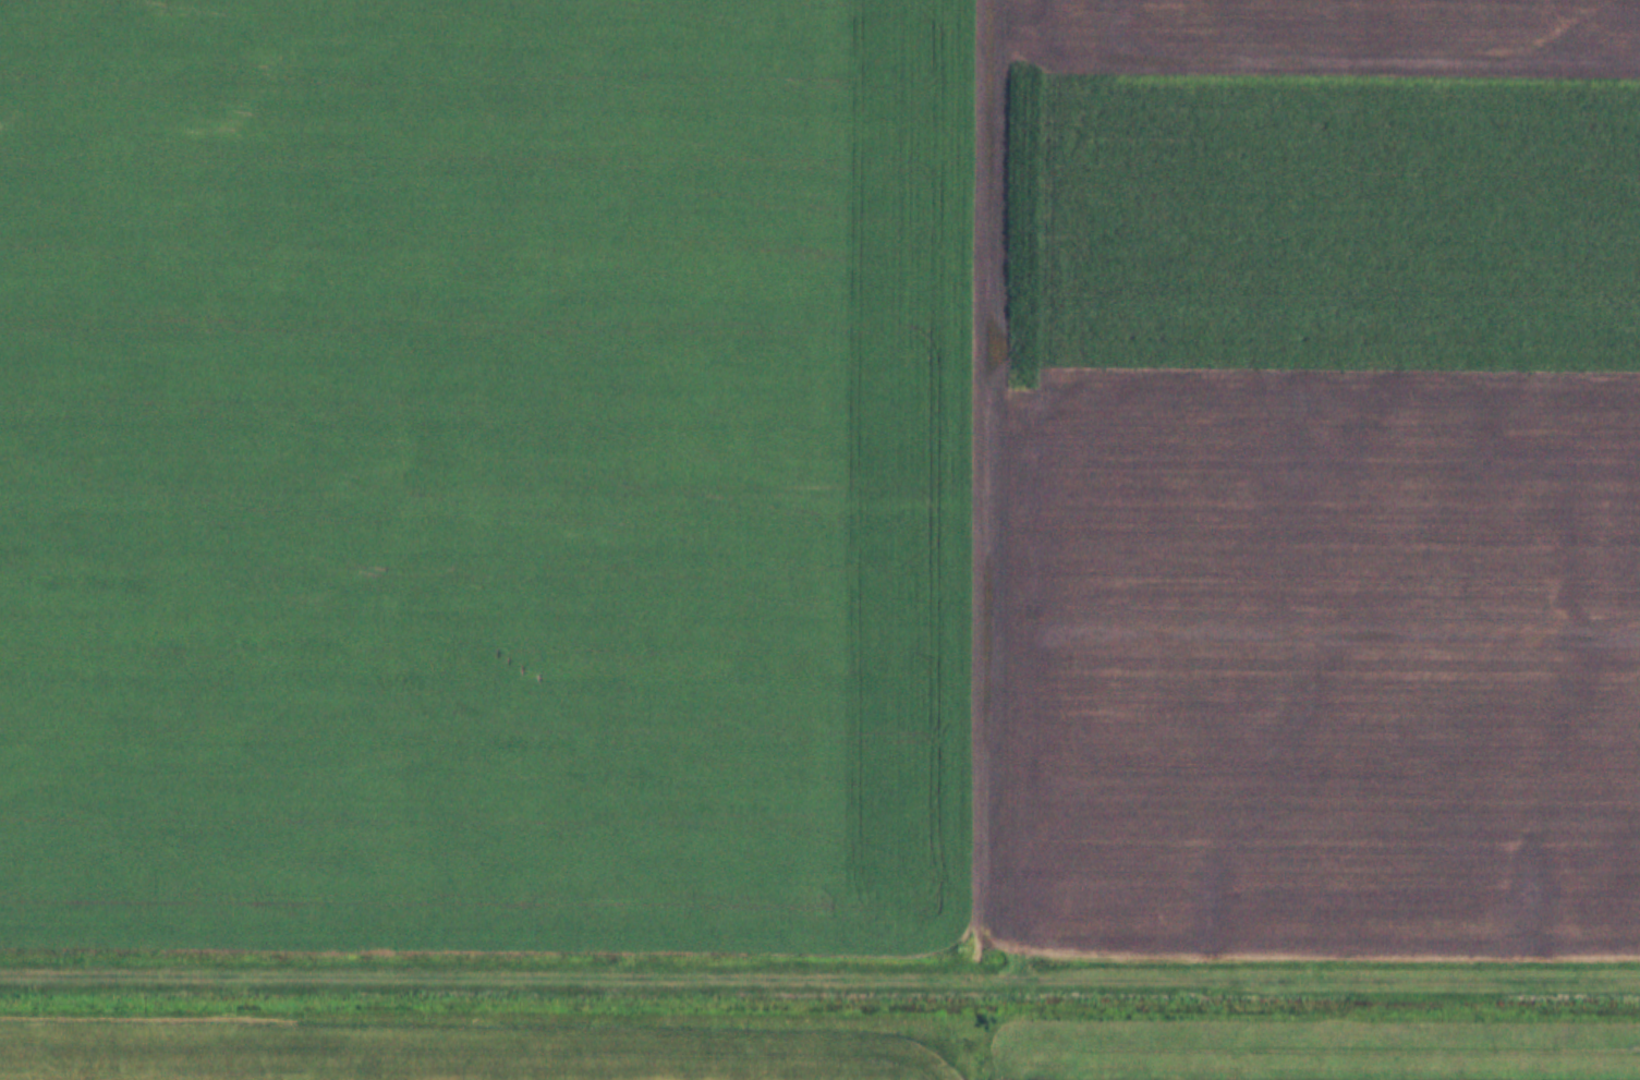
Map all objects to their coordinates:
road: (819, 982)

